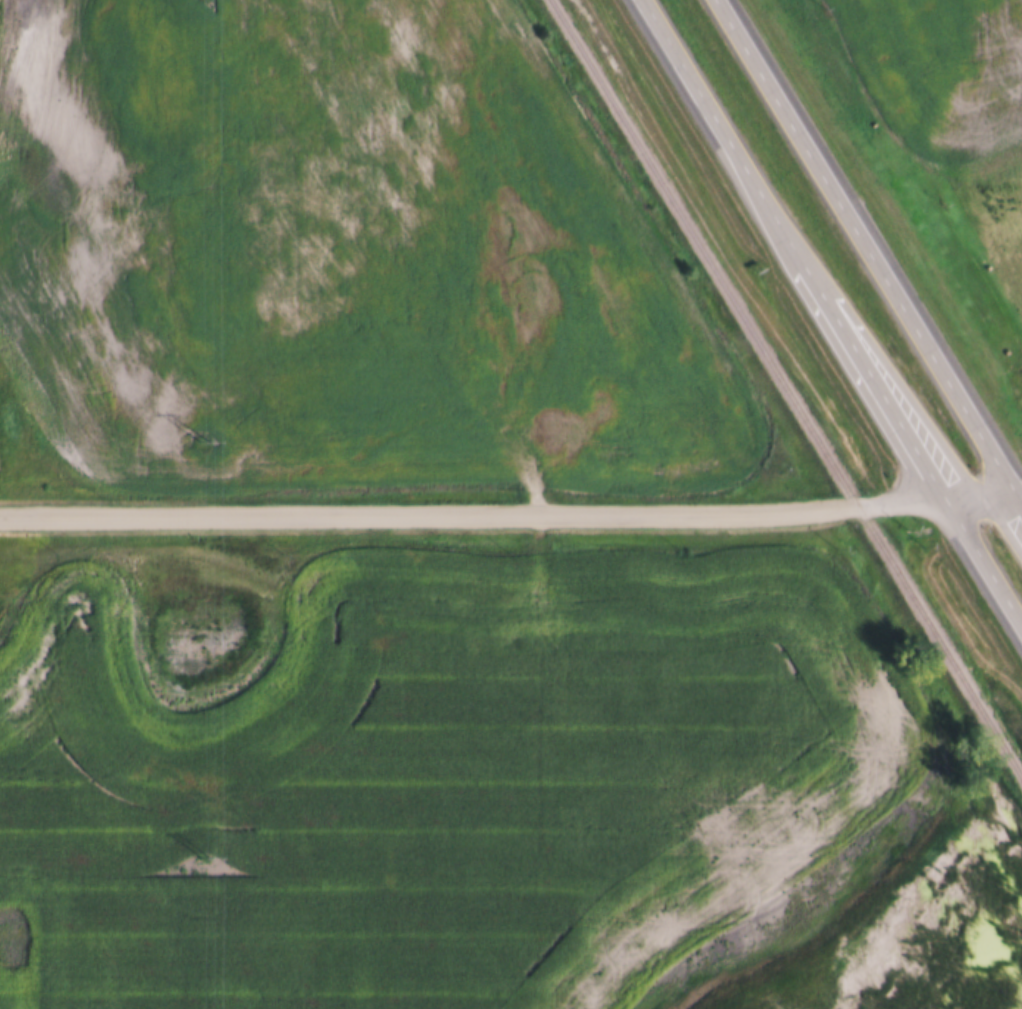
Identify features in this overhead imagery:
road: (871, 251)
road: (833, 313)
railway: (785, 389)
power tower: (201, 438)
road: (511, 514)
power tower: (201, 856)

